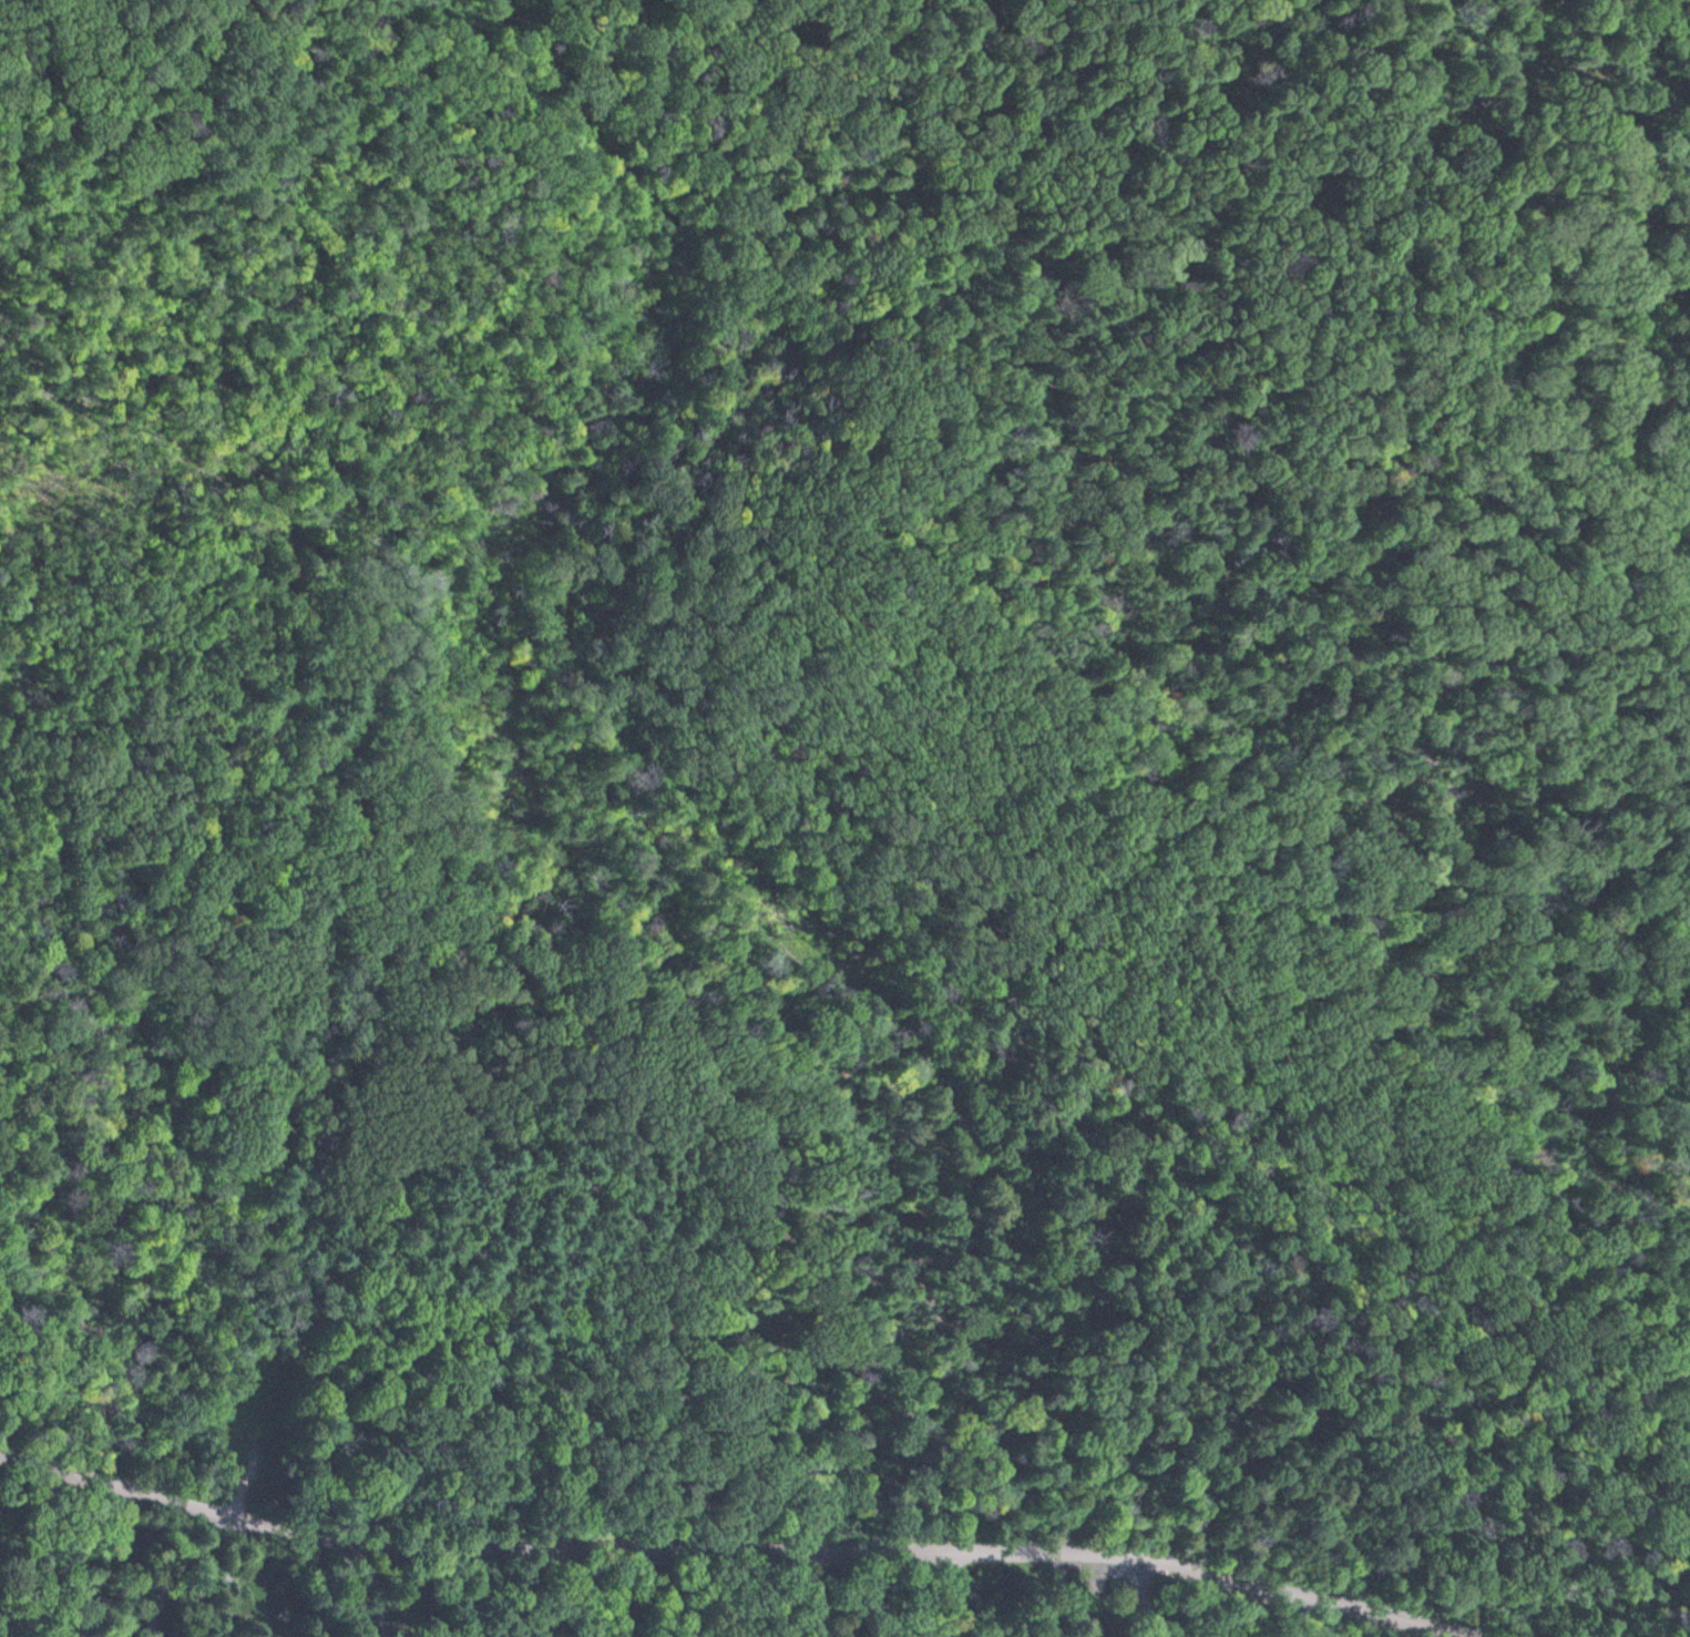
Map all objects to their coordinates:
road: (831, 10)
road: (263, 102)
road: (429, 335)
road: (400, 654)
road: (1017, 1086)
road: (733, 1544)
road: (1143, 1600)

